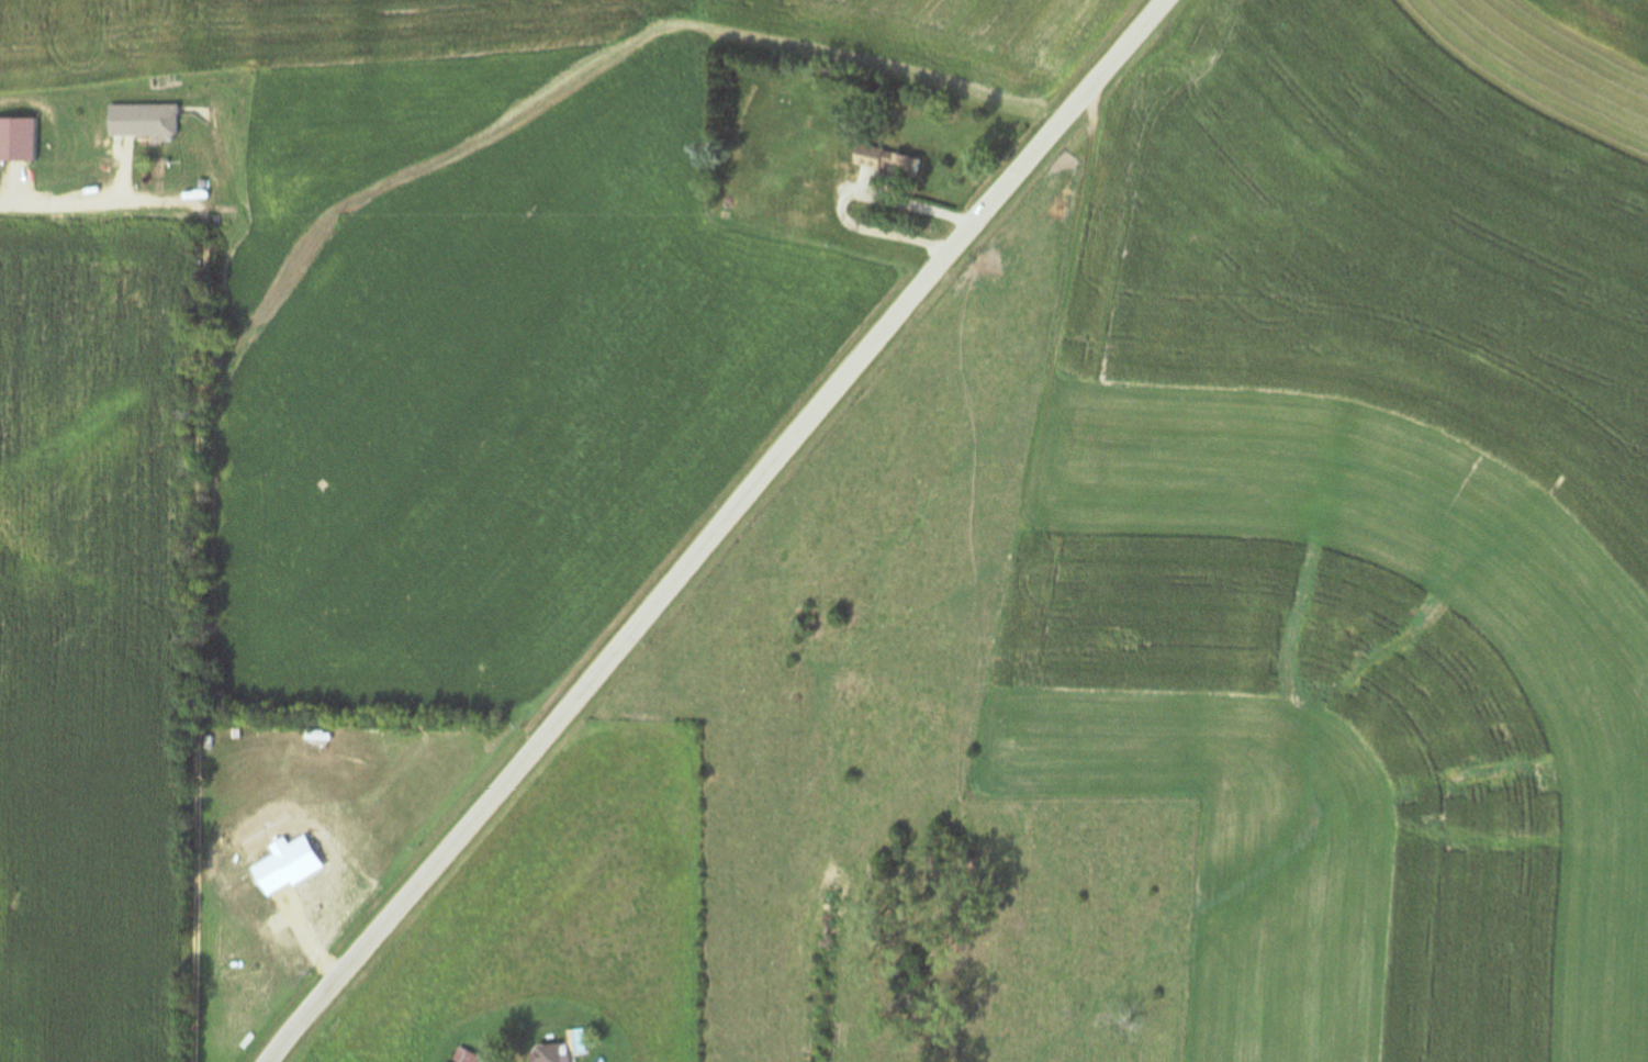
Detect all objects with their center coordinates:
building: (141, 121)
building: (886, 160)
road: (716, 529)
building: (550, 1053)
building: (464, 1055)

